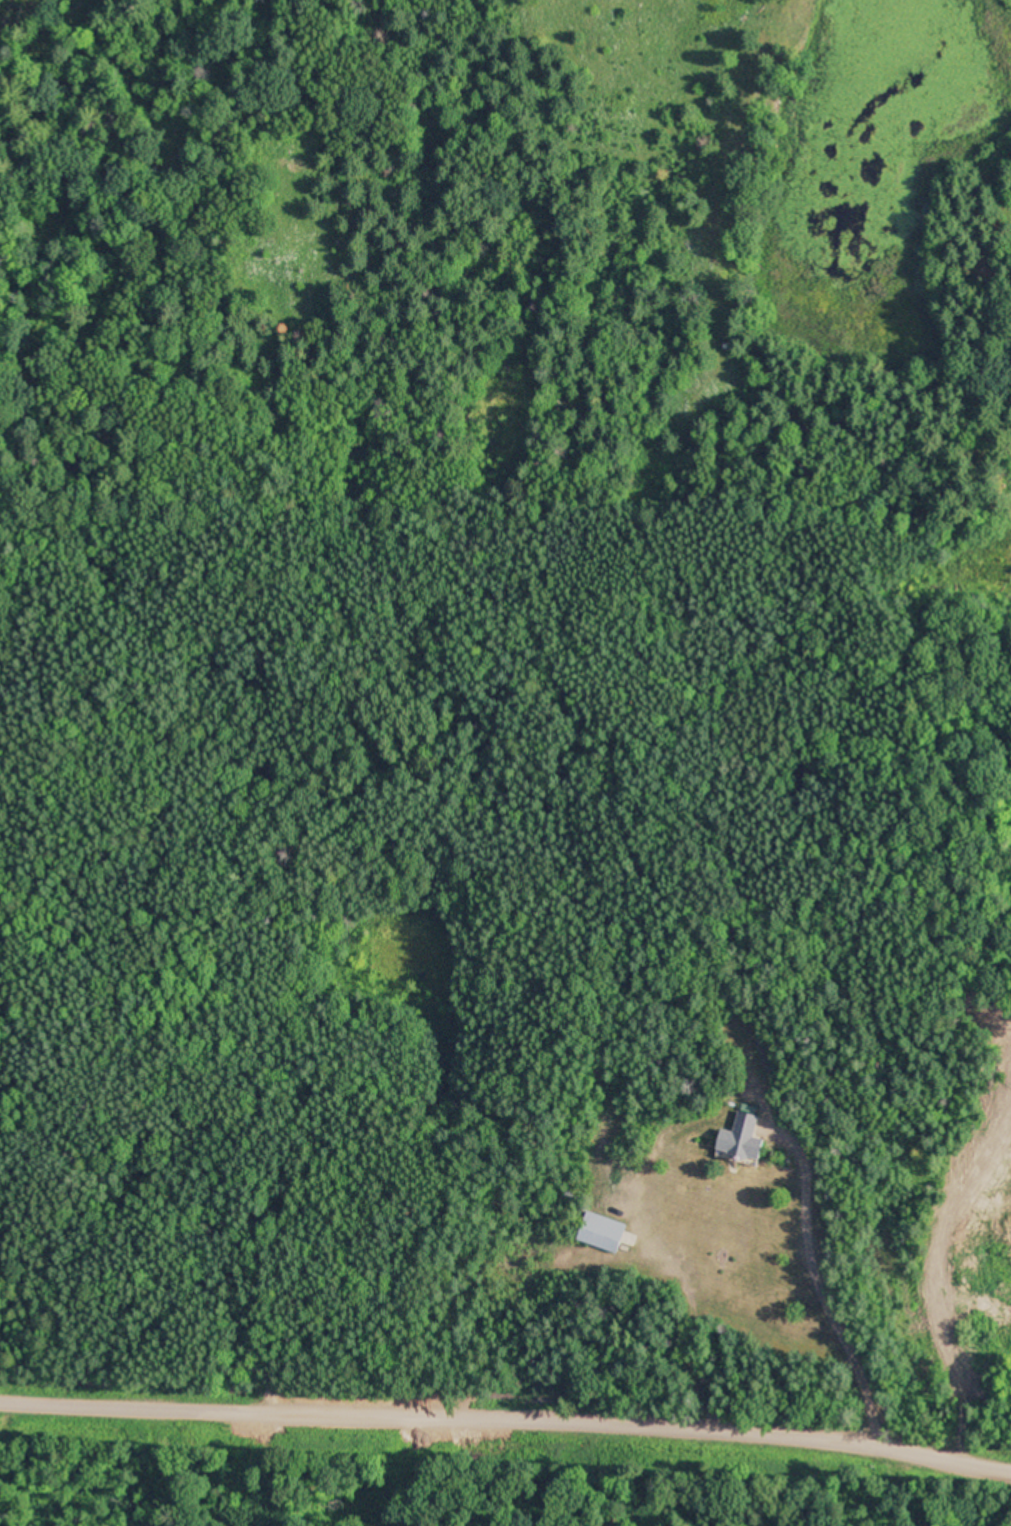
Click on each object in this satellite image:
building: (739, 1140)
building: (600, 1233)
road: (506, 1425)

